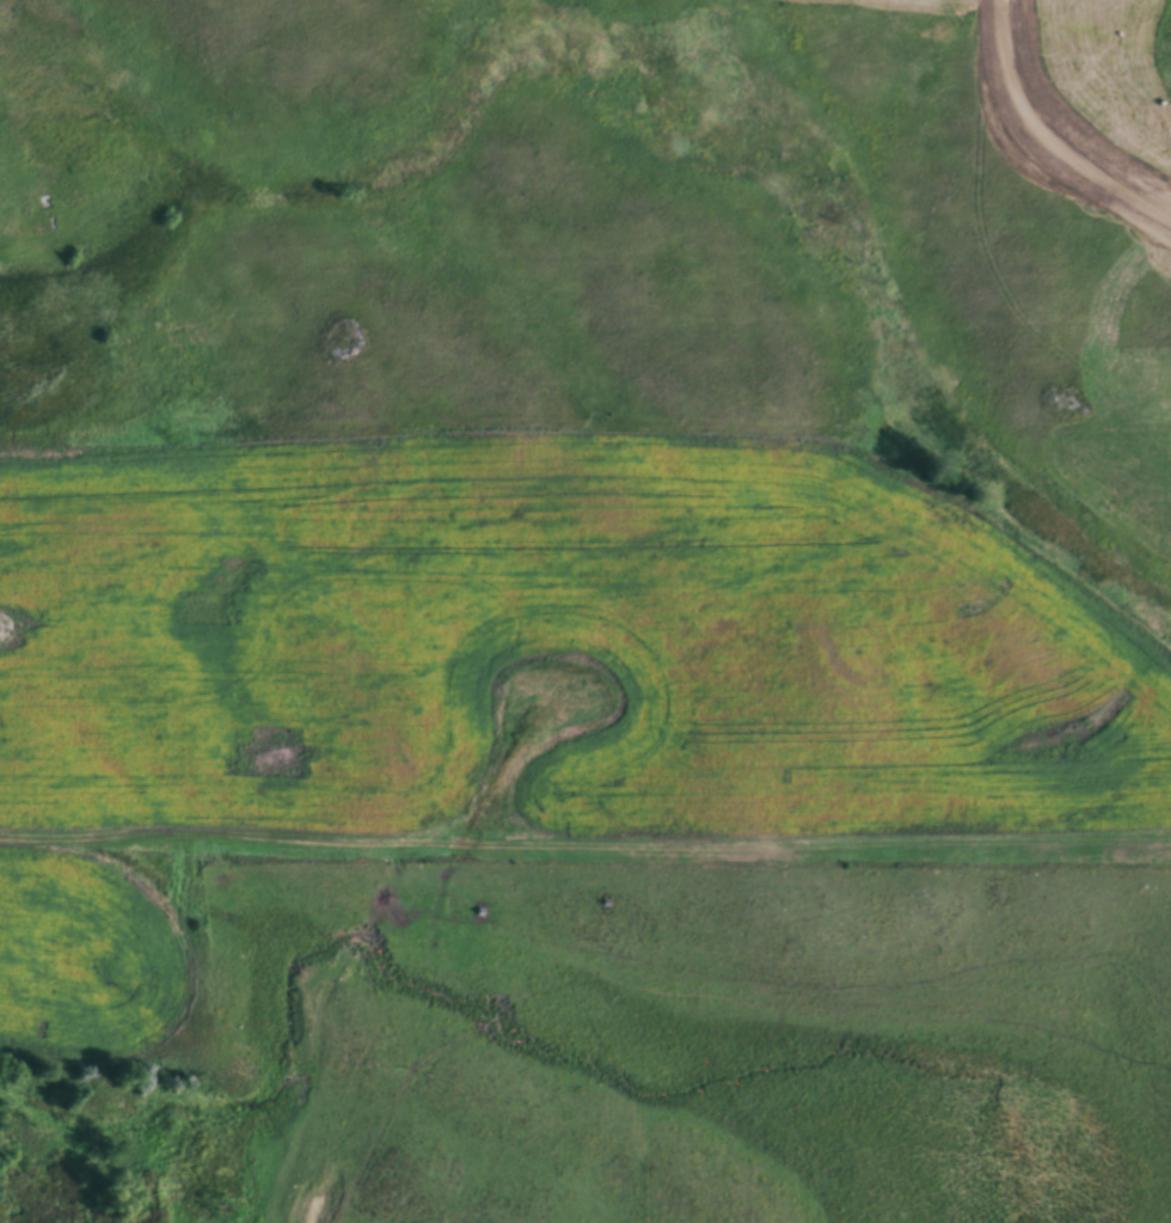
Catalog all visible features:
river: (43, 342)

